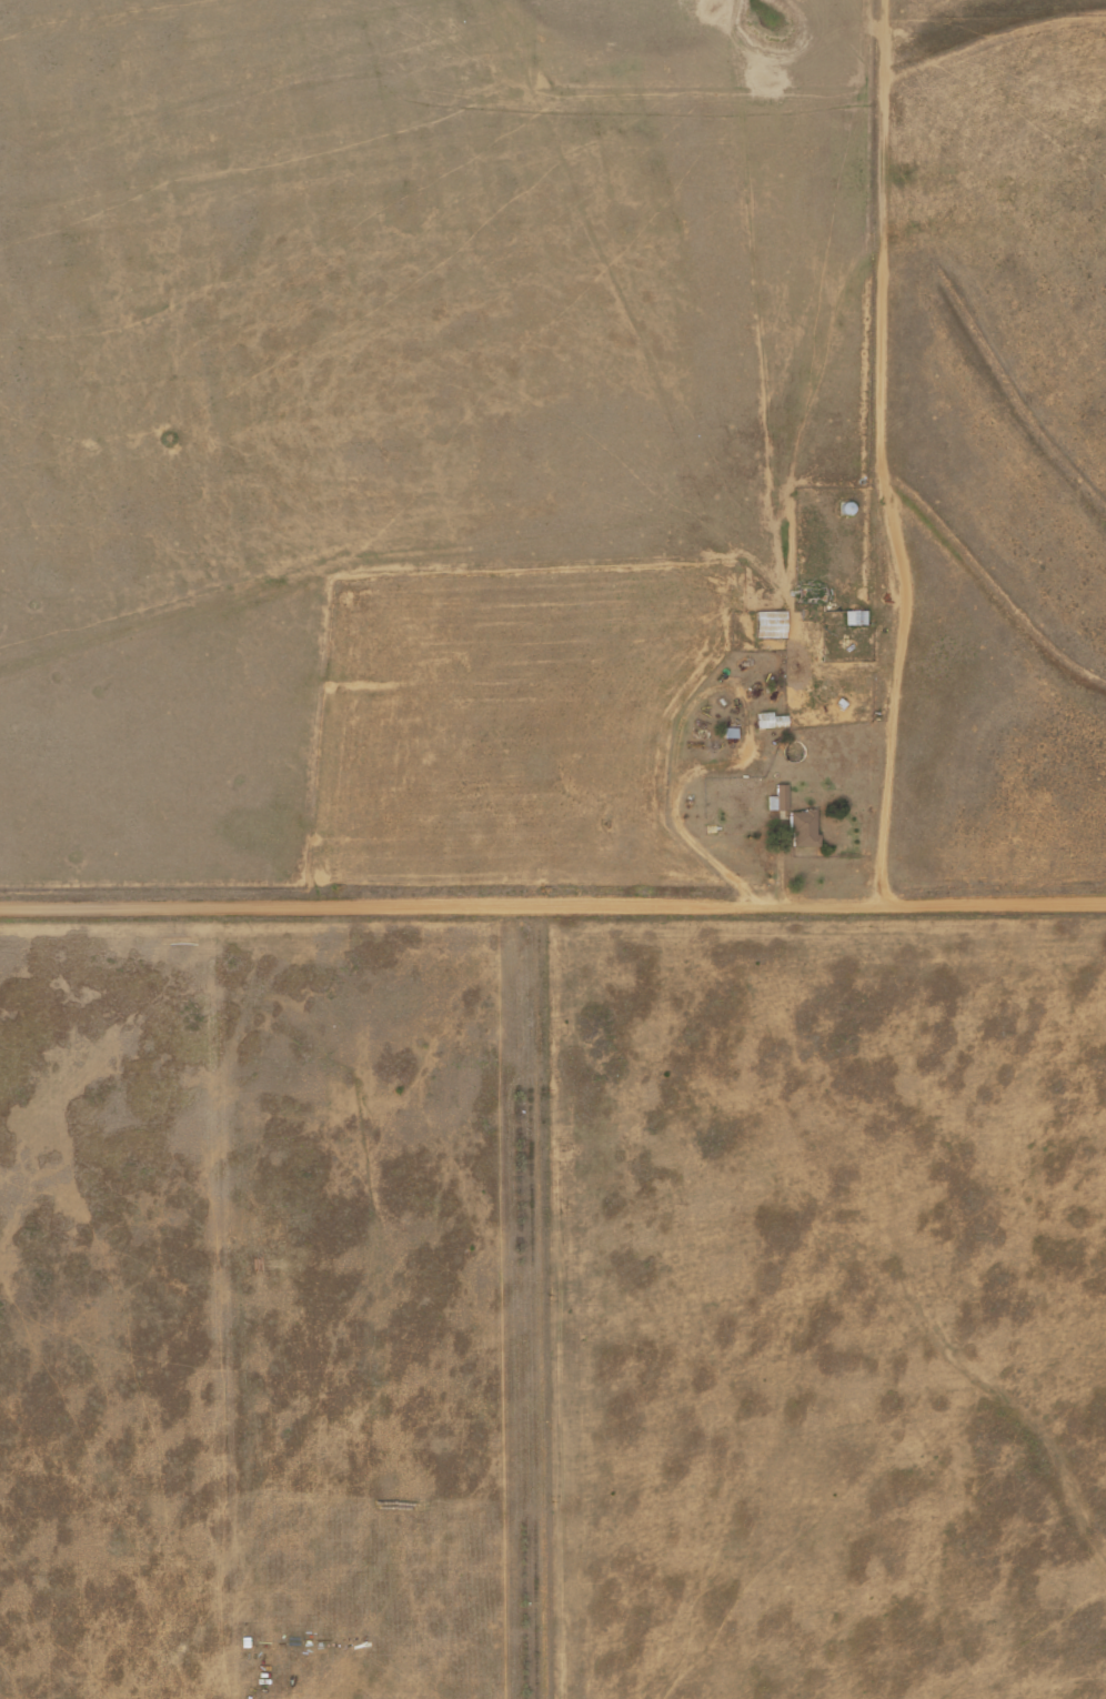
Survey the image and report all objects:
road: (879, 454)
building: (849, 509)
building: (857, 617)
building: (772, 624)
building: (772, 720)
building: (732, 732)
building: (782, 796)
building: (805, 827)
road: (553, 904)
road: (555, 1301)

